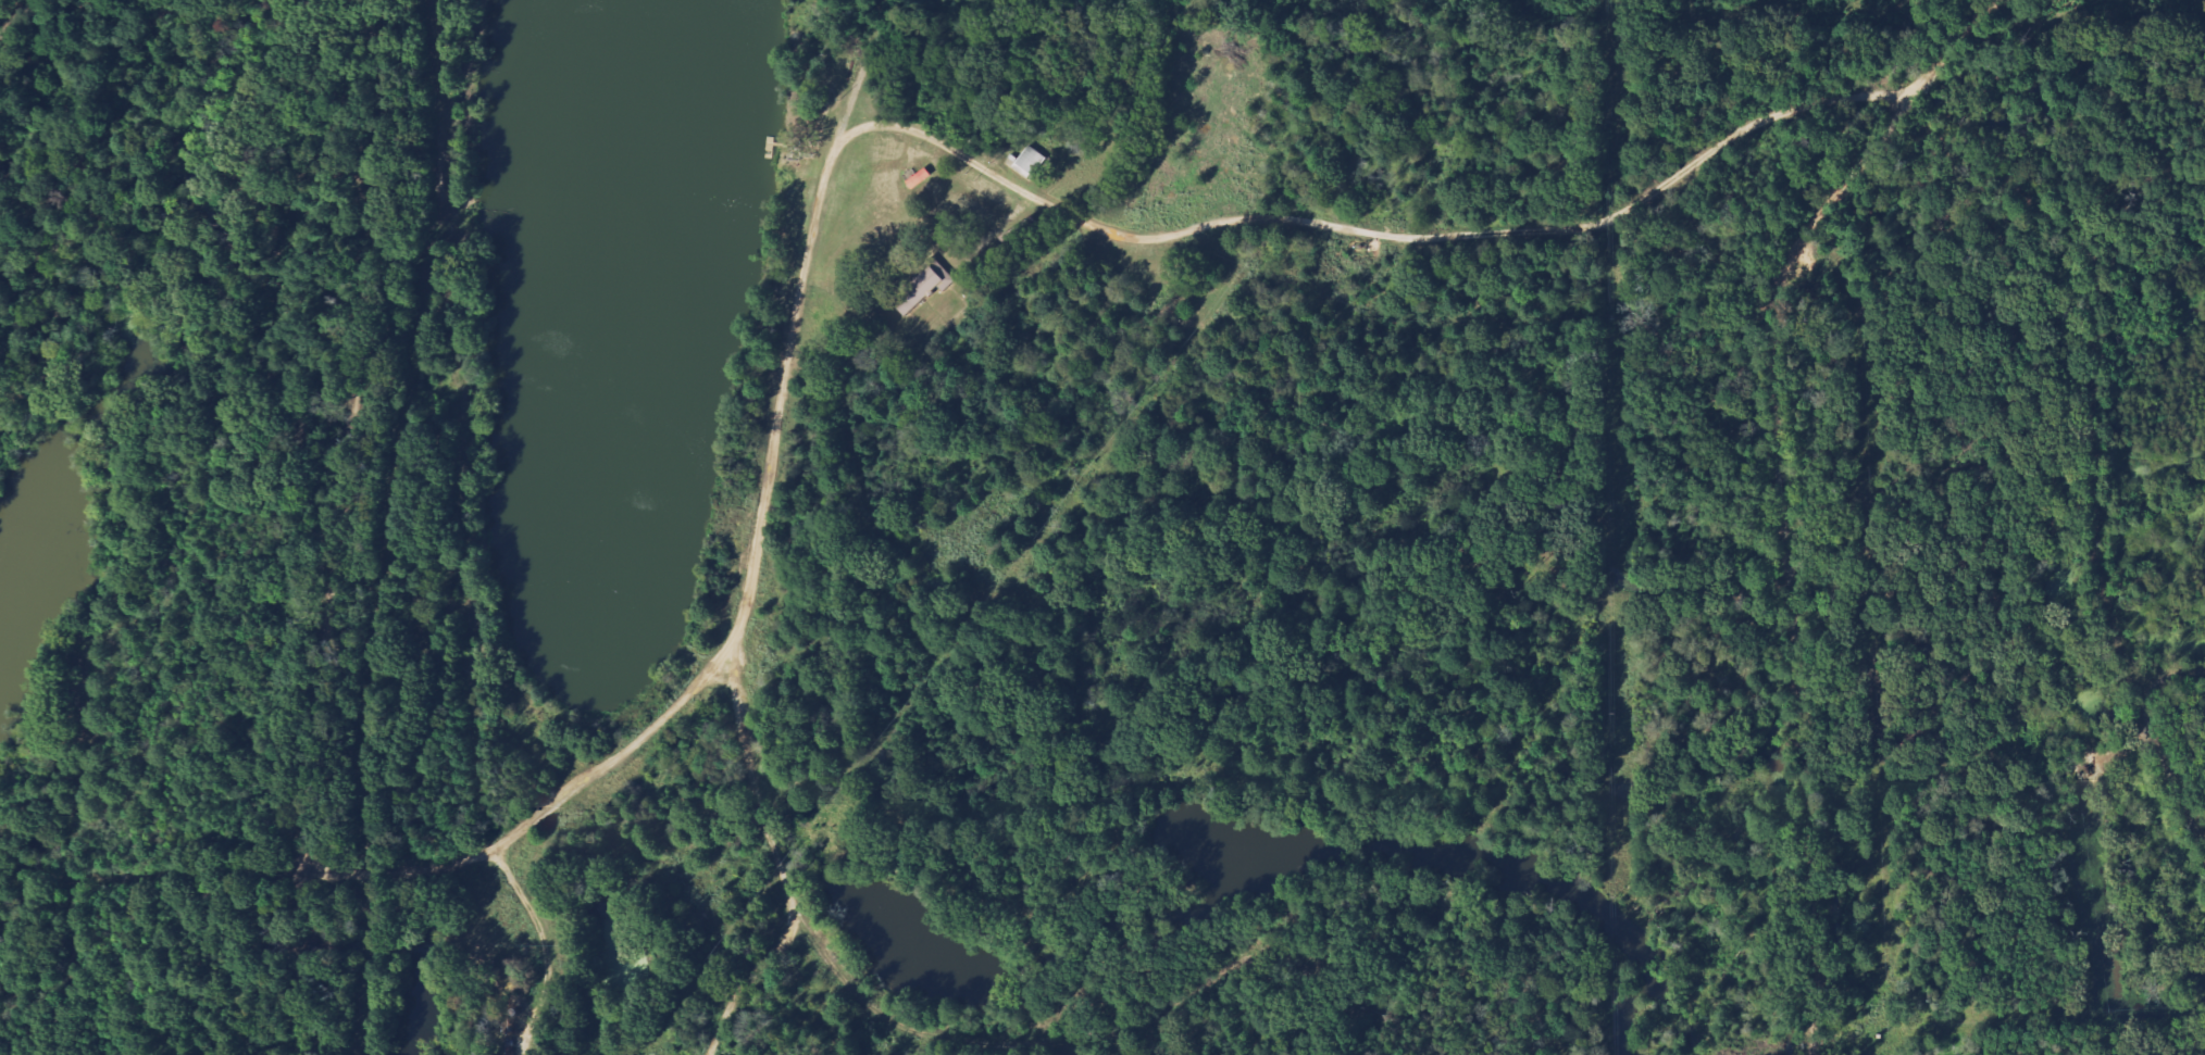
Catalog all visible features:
road: (13, 14)
road: (1096, 223)
building: (926, 289)
road: (351, 435)
road: (1786, 488)
road: (756, 568)
road: (2179, 677)
road: (414, 683)
road: (2168, 766)
road: (150, 877)
road: (540, 949)
road: (299, 963)
road: (750, 985)
road: (947, 1041)

